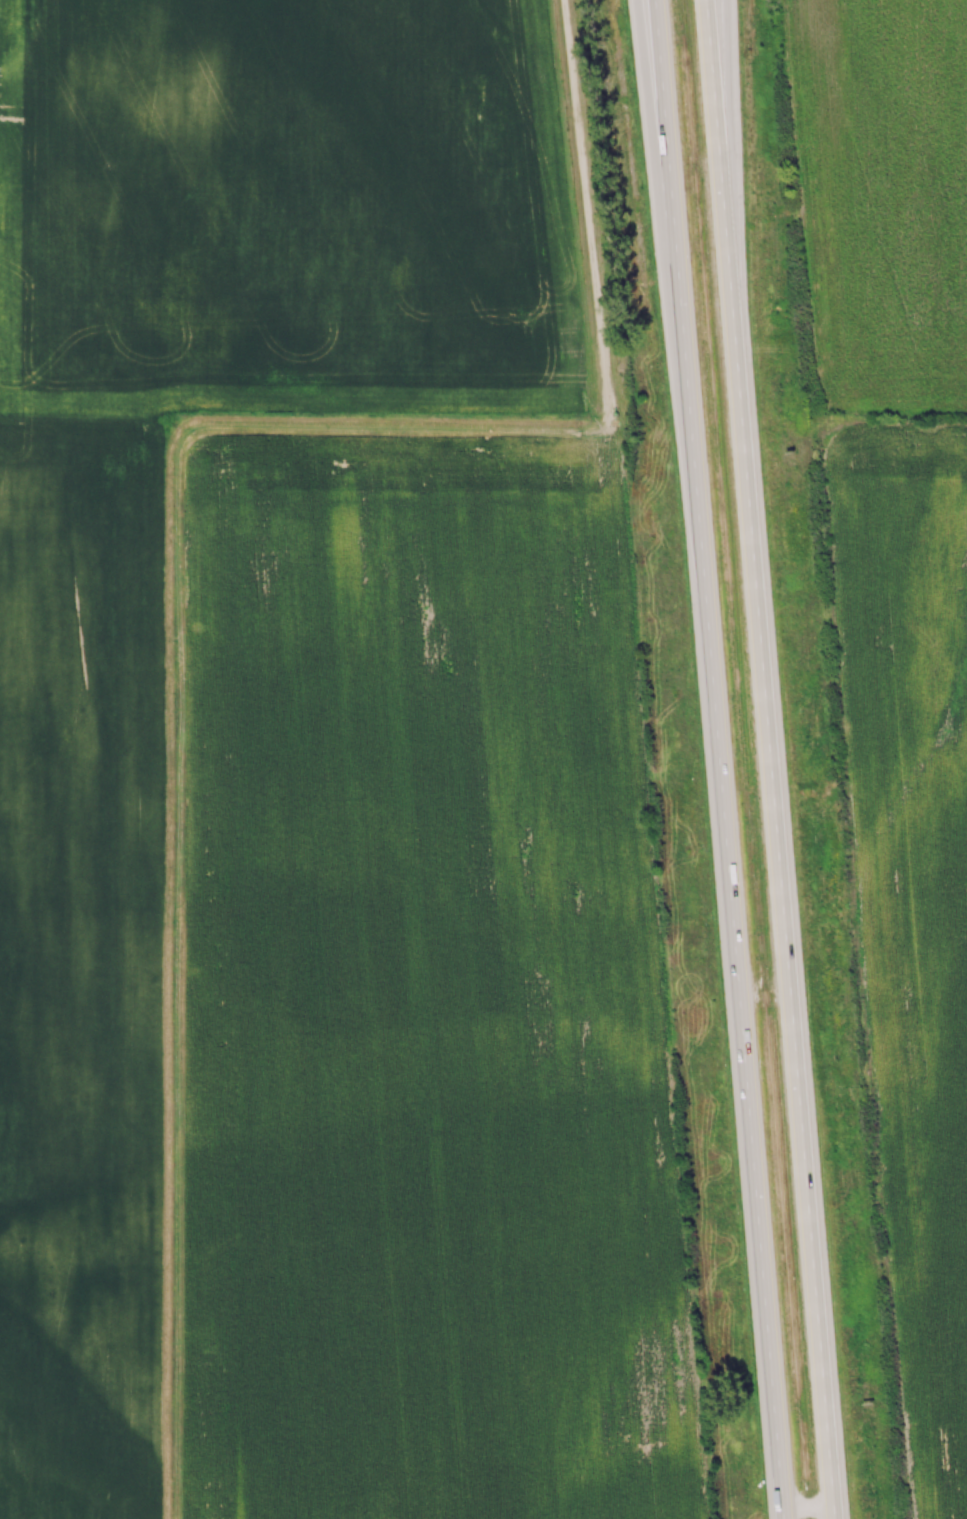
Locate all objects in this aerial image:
road: (641, 63)
road: (717, 77)
road: (713, 759)
road: (765, 759)

